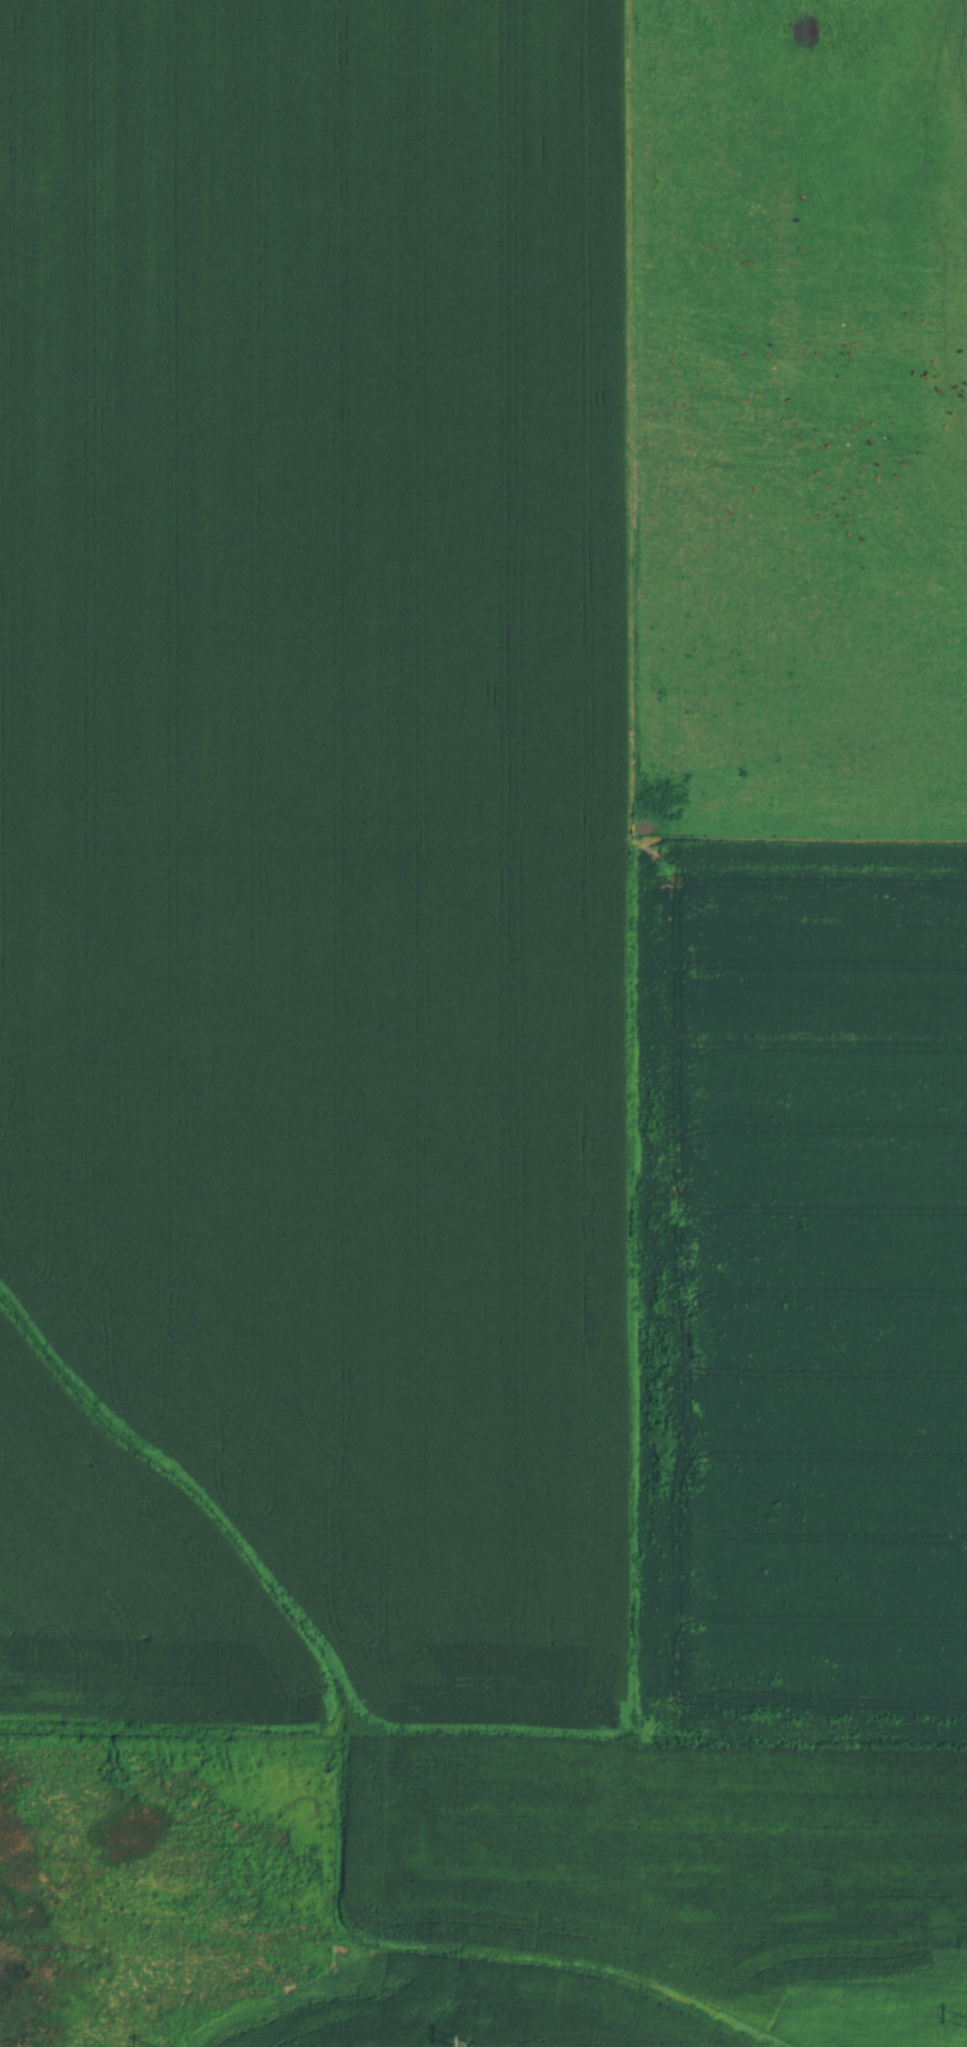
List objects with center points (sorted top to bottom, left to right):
power tower: (468, 2044)

